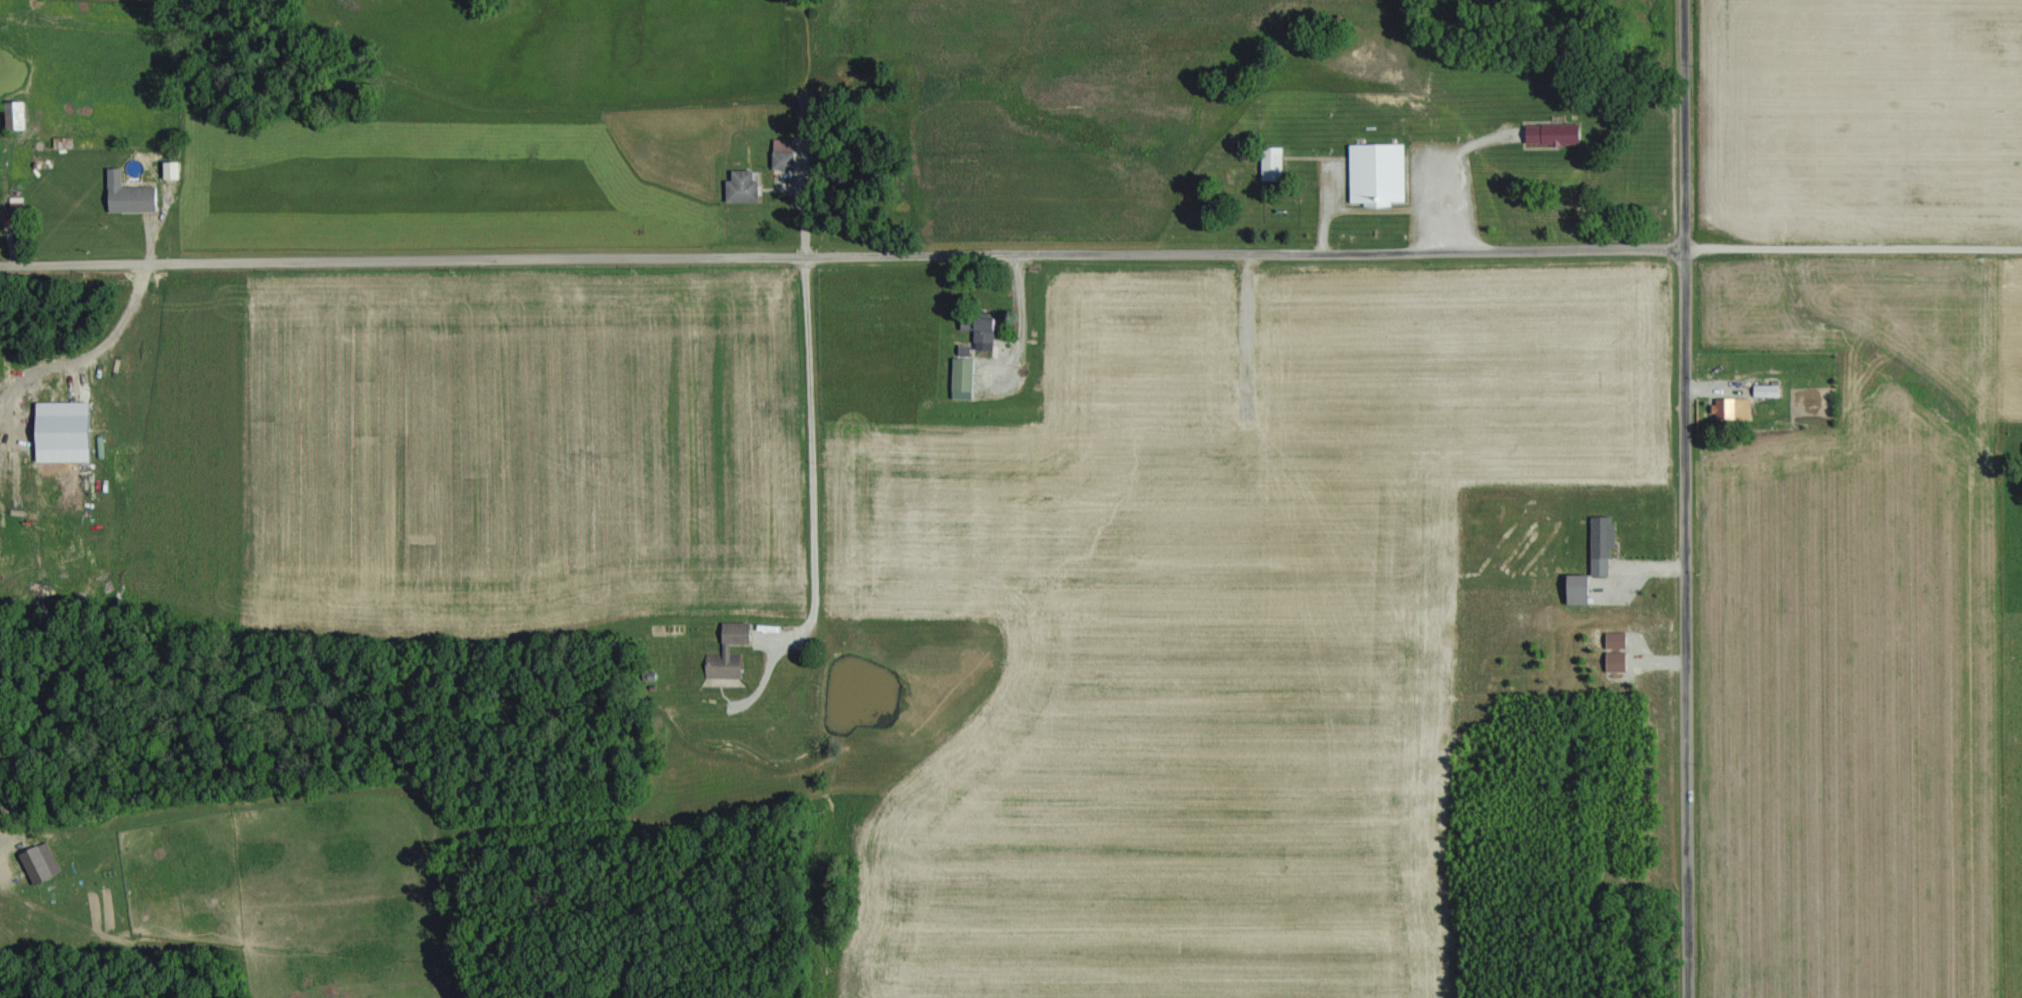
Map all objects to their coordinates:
building: (15, 115)
building: (1553, 135)
building: (1271, 164)
building: (171, 170)
building: (1377, 174)
building: (742, 188)
building: (128, 195)
road: (1853, 250)
road: (842, 260)
building: (984, 334)
road: (87, 358)
building: (962, 379)
building: (1766, 391)
building: (1732, 409)
building: (62, 432)
road: (810, 470)
road: (1688, 498)
building: (1601, 547)
building: (1578, 590)
building: (1616, 662)
road: (2, 838)
building: (40, 864)

